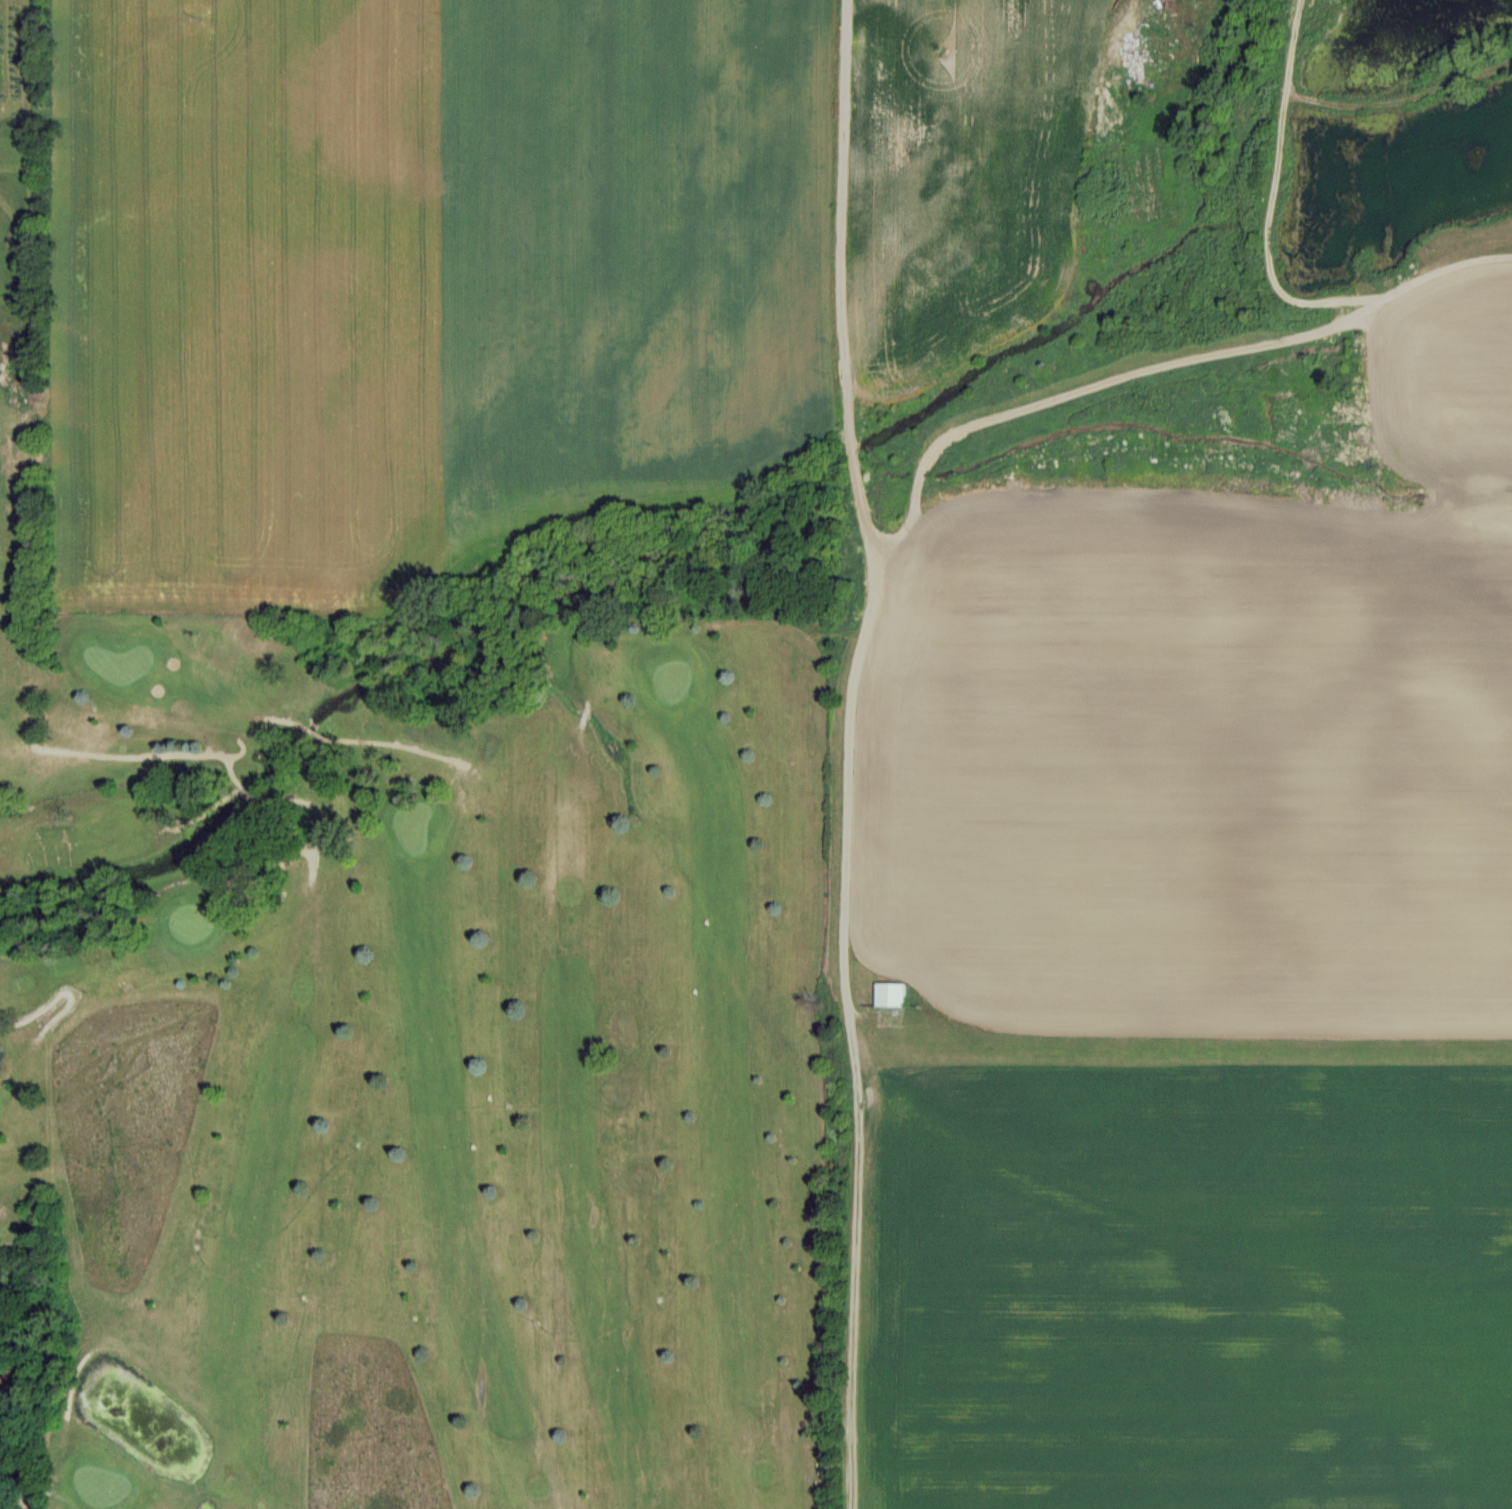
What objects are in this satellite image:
road: (1269, 264)
road: (902, 530)
building: (892, 994)
park: (409, 1045)

